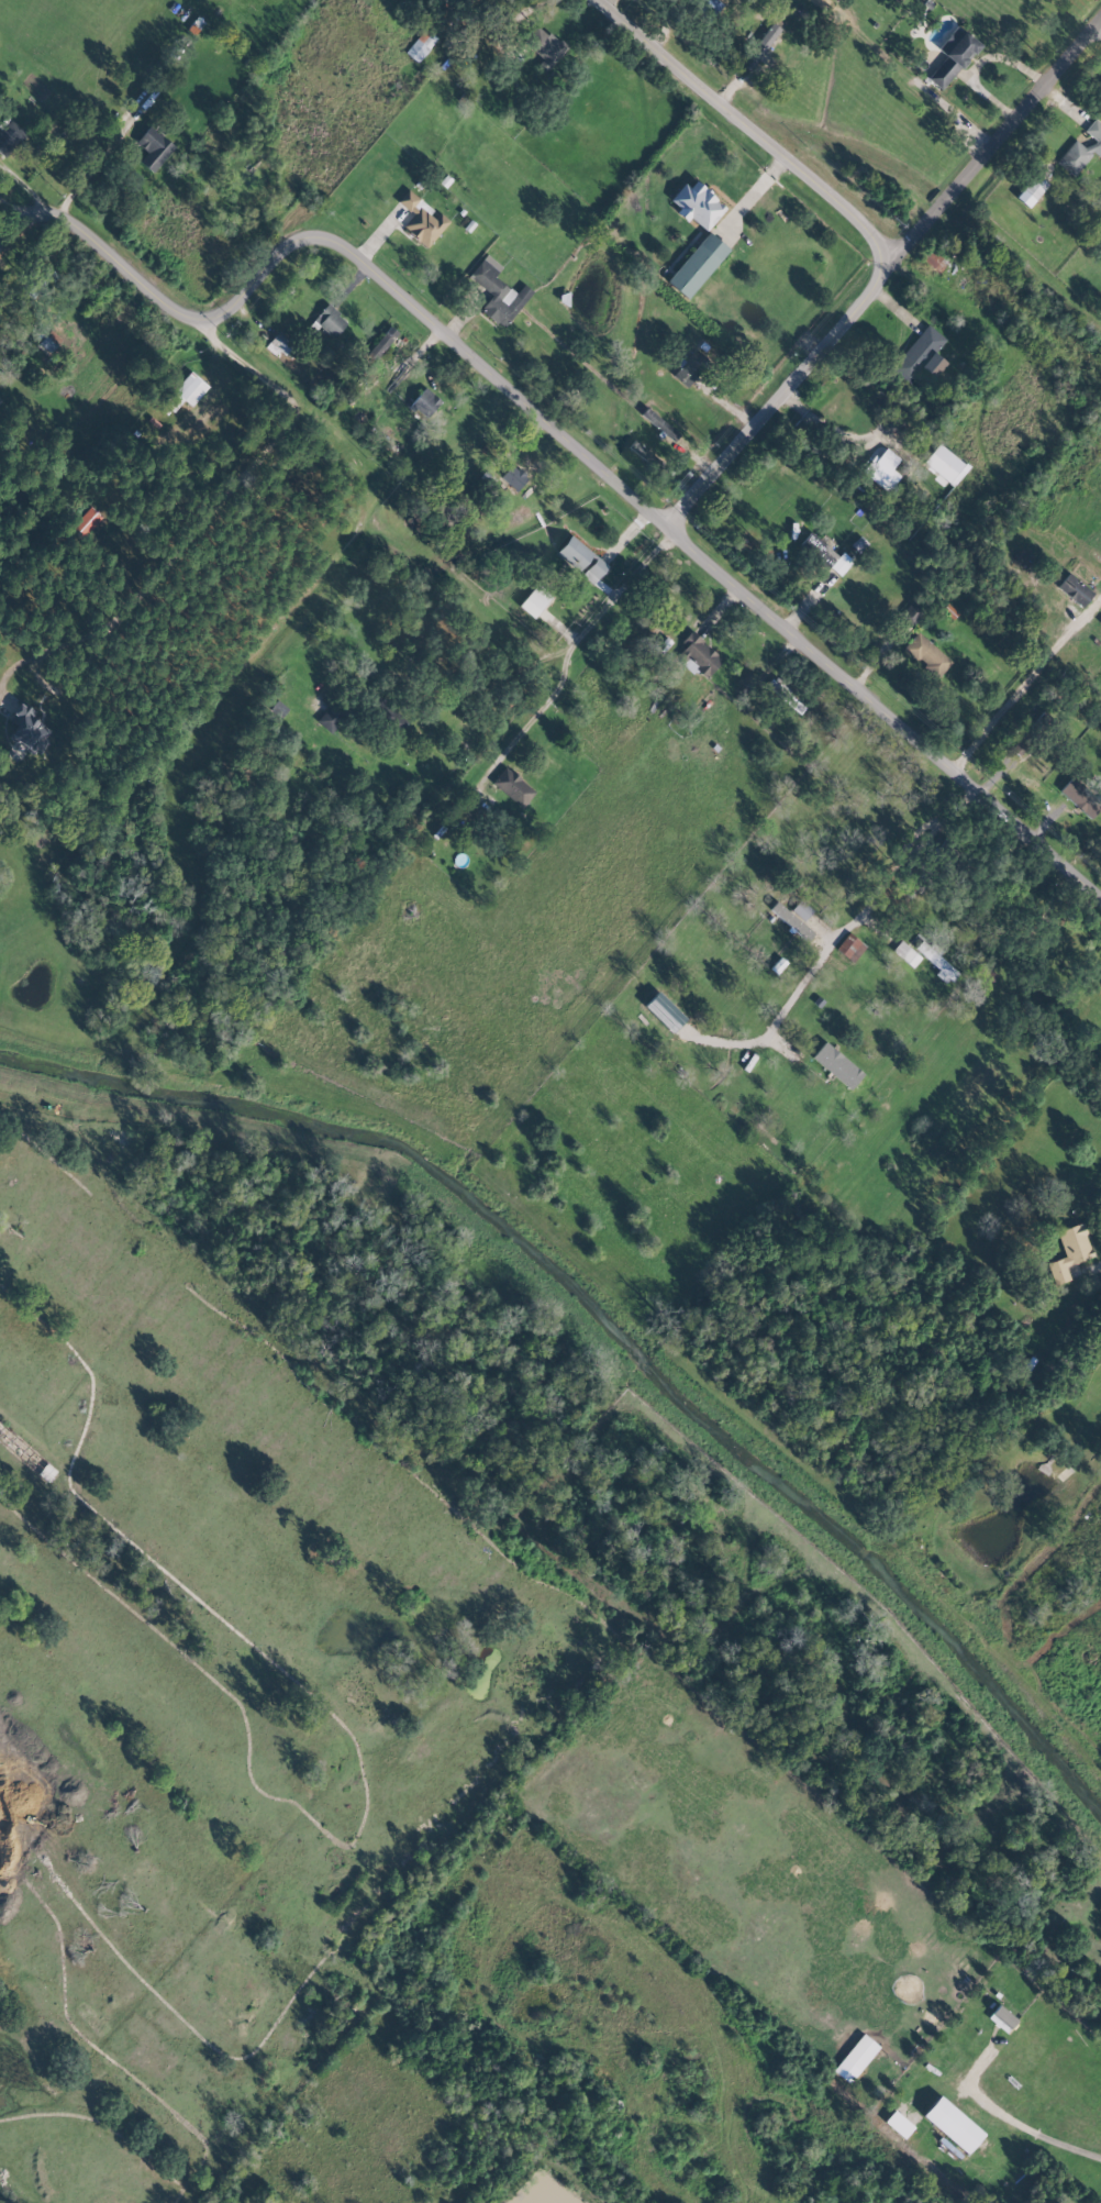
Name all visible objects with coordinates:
road: (1100, 32)
building: (421, 45)
building: (544, 46)
building: (953, 55)
road: (744, 124)
building: (9, 136)
road: (994, 147)
building: (153, 148)
building: (1081, 150)
road: (84, 176)
building: (1031, 190)
building: (698, 204)
building: (421, 219)
road: (48, 224)
road: (340, 245)
building: (933, 261)
building: (697, 265)
building: (497, 291)
building: (329, 320)
building: (379, 344)
building: (920, 355)
building: (690, 367)
building: (190, 388)
road: (780, 397)
building: (424, 402)
building: (657, 422)
building: (643, 453)
building: (942, 463)
building: (882, 471)
building: (513, 476)
road: (207, 519)
building: (88, 522)
building: (825, 555)
building: (580, 558)
road: (635, 564)
building: (1074, 589)
building: (534, 600)
building: (910, 612)
road: (571, 645)
building: (926, 654)
building: (697, 655)
building: (783, 696)
road: (1013, 696)
road: (549, 698)
road: (881, 710)
building: (331, 718)
building: (27, 729)
road: (519, 735)
building: (512, 786)
building: (1080, 797)
road: (868, 906)
building: (801, 909)
building: (791, 921)
building: (849, 946)
building: (905, 953)
building: (934, 960)
building: (834, 1065)
building: (1068, 1252)
building: (1001, 2018)
building: (855, 2058)
building: (952, 2124)
road: (1011, 2127)

